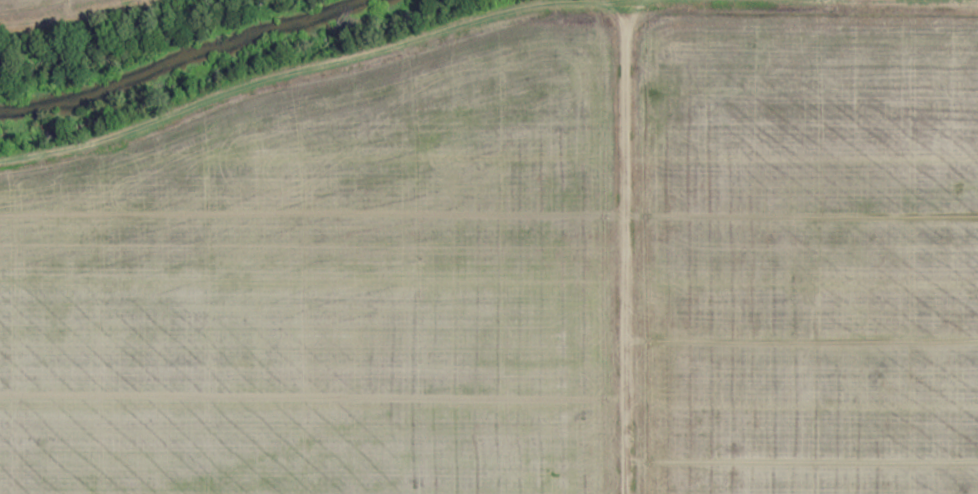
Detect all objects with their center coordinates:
road: (925, 0)
road: (284, 78)

